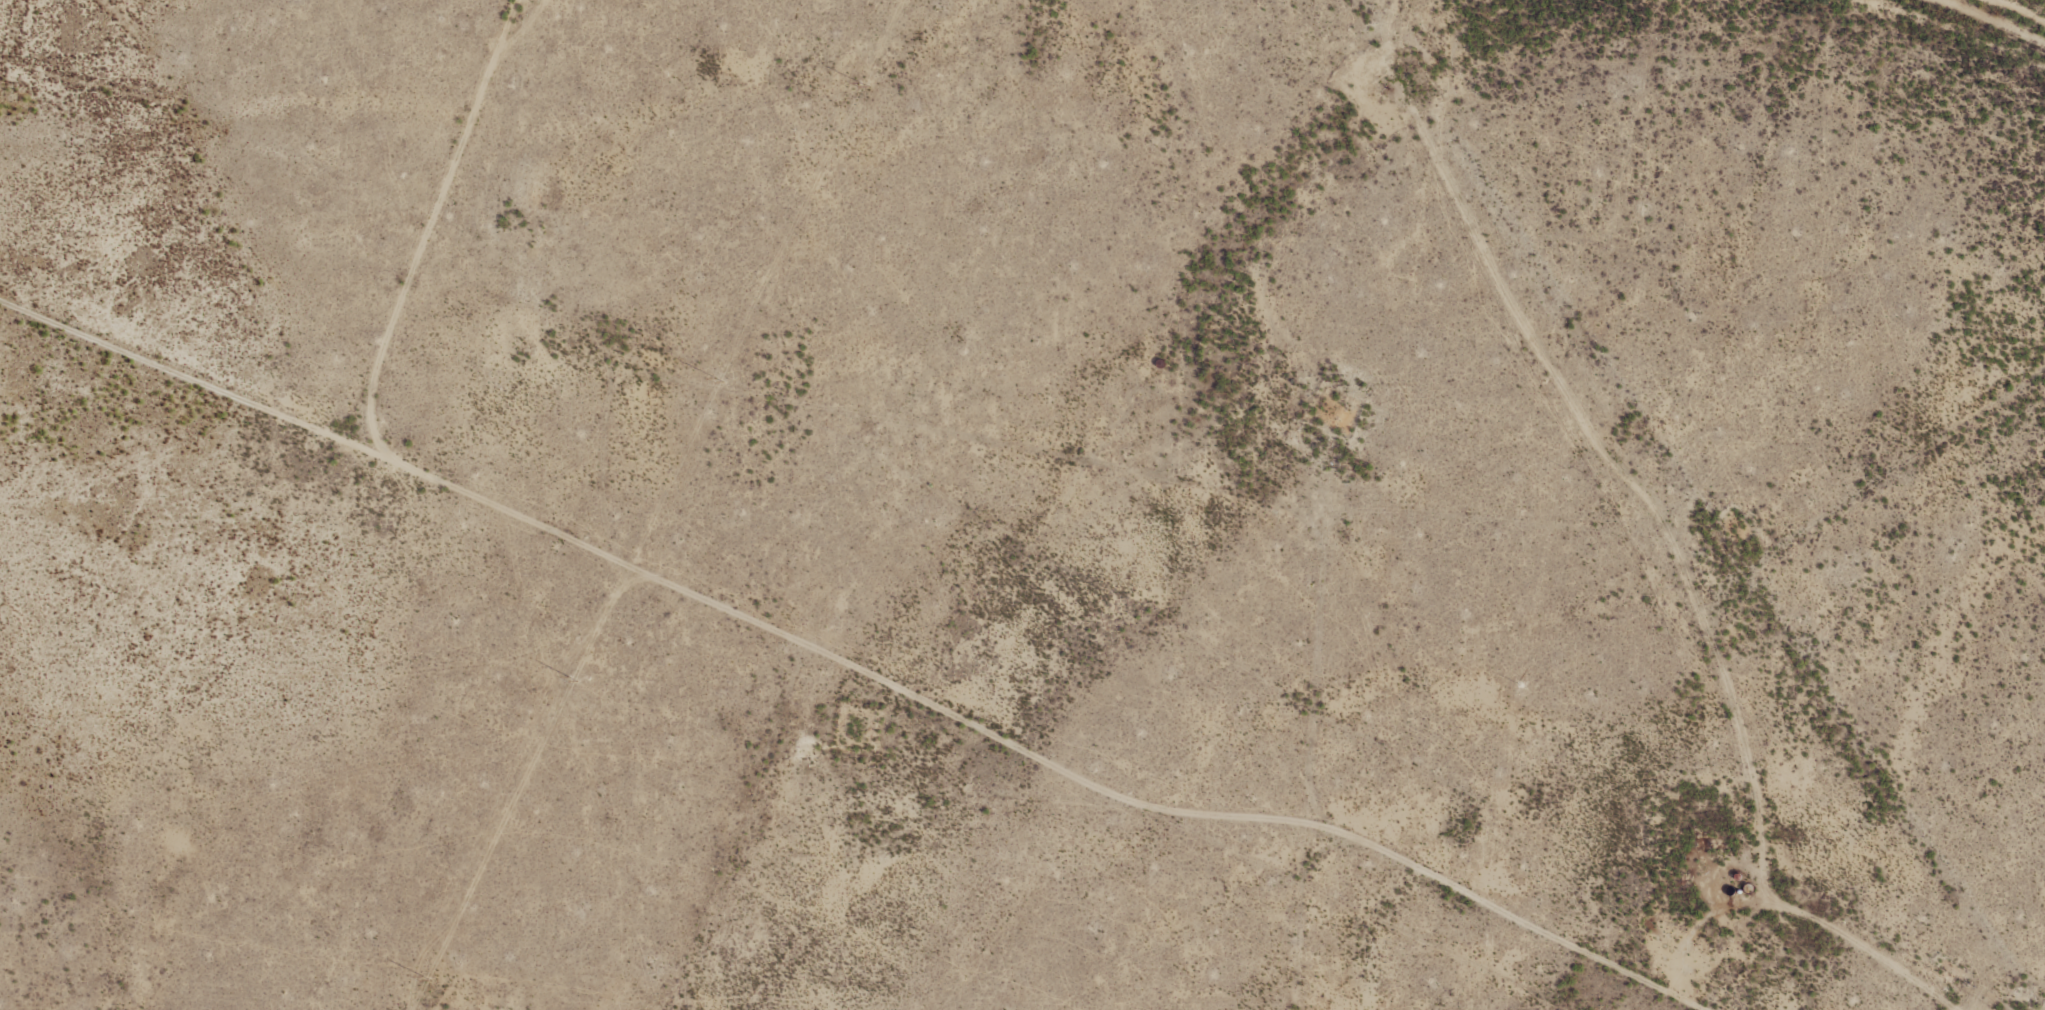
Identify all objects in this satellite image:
power tower: (863, 83)
power tower: (717, 381)
road: (641, 581)
road: (1297, 668)
power tower: (571, 679)
road: (750, 837)
road: (1296, 929)
power tower: (426, 978)

